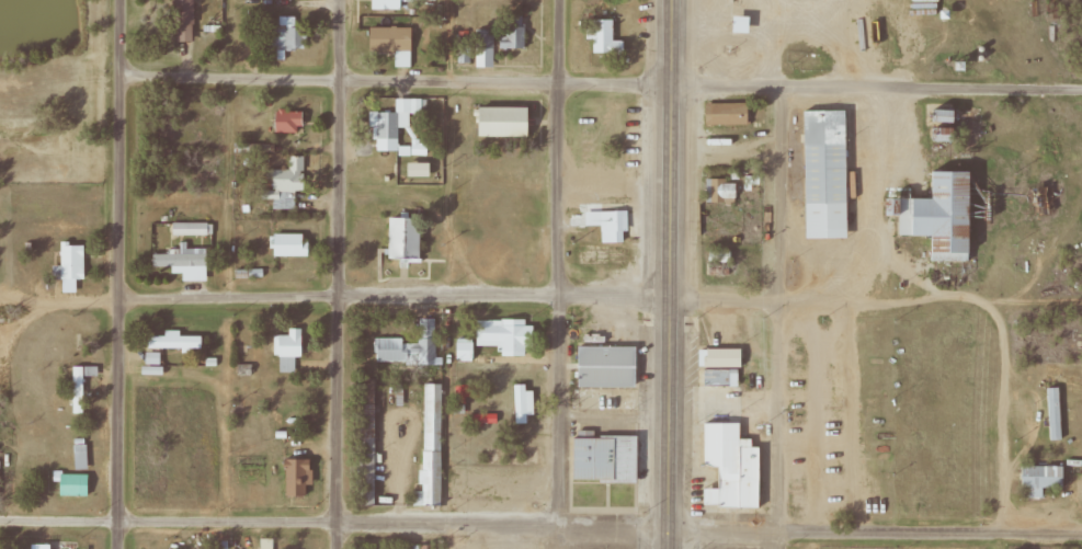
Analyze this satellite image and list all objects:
building: (391, 4)
building: (186, 20)
building: (737, 23)
building: (602, 36)
building: (287, 39)
building: (397, 44)
building: (501, 44)
road: (395, 81)
road: (874, 84)
building: (731, 114)
building: (938, 114)
building: (506, 123)
building: (294, 124)
building: (399, 129)
building: (423, 171)
building: (829, 175)
building: (287, 184)
building: (725, 191)
building: (944, 218)
building: (613, 226)
building: (46, 227)
building: (194, 229)
building: (408, 238)
building: (293, 245)
building: (76, 260)
building: (190, 263)
building: (725, 263)
road: (123, 274)
building: (253, 274)
road: (344, 274)
road: (561, 274)
road: (667, 274)
road: (395, 298)
road: (831, 306)
road: (784, 317)
building: (520, 344)
building: (413, 345)
building: (170, 348)
building: (292, 351)
building: (467, 352)
building: (717, 356)
building: (215, 362)
building: (611, 367)
building: (249, 369)
building: (80, 377)
building: (718, 377)
building: (82, 391)
building: (401, 396)
building: (468, 397)
building: (525, 404)
building: (1052, 412)
building: (490, 419)
road: (992, 428)
building: (369, 446)
building: (78, 453)
building: (434, 453)
building: (601, 457)
building: (734, 467)
building: (300, 479)
building: (1036, 479)
building: (1, 482)
building: (79, 483)
road: (280, 524)
road: (612, 530)
road: (873, 535)
building: (266, 542)
building: (37, 546)
building: (420, 546)

